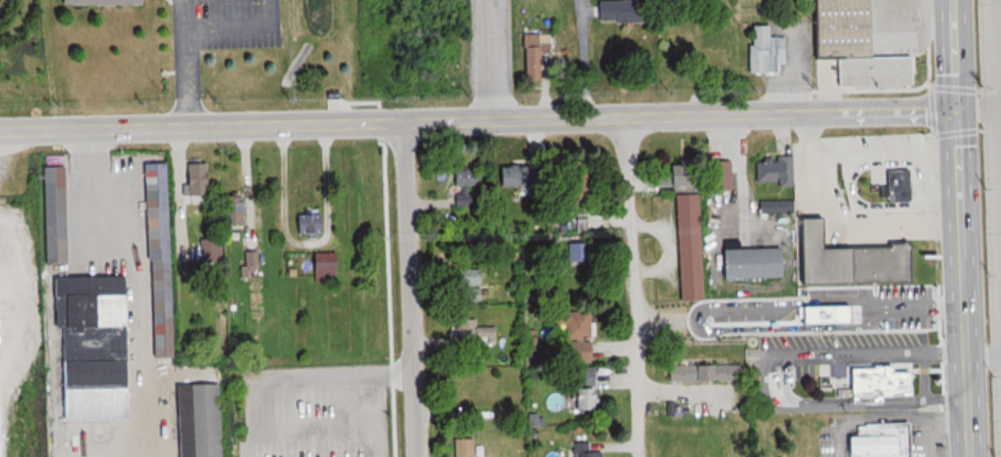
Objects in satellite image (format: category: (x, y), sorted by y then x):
building: (105, 2)
road: (191, 11)
building: (630, 11)
road: (240, 21)
building: (859, 49)
building: (770, 50)
road: (953, 54)
building: (540, 56)
road: (581, 58)
road: (488, 59)
road: (193, 74)
road: (978, 108)
traffic signals: (955, 109)
road: (477, 119)
building: (777, 170)
building: (723, 174)
building: (684, 175)
building: (523, 176)
building: (470, 177)
building: (202, 182)
building: (580, 182)
building: (898, 186)
building: (237, 205)
building: (775, 206)
building: (59, 213)
building: (311, 225)
building: (692, 247)
building: (213, 250)
building: (579, 252)
building: (164, 259)
building: (857, 260)
building: (759, 262)
building: (254, 264)
building: (331, 266)
building: (470, 276)
road: (625, 282)
road: (962, 282)
road: (402, 290)
road: (844, 292)
building: (860, 308)
road: (795, 320)
building: (475, 330)
building: (581, 335)
building: (96, 347)
road: (983, 360)
building: (707, 372)
building: (882, 383)
building: (590, 398)
building: (202, 420)
building: (881, 441)
building: (468, 447)
building: (593, 453)

